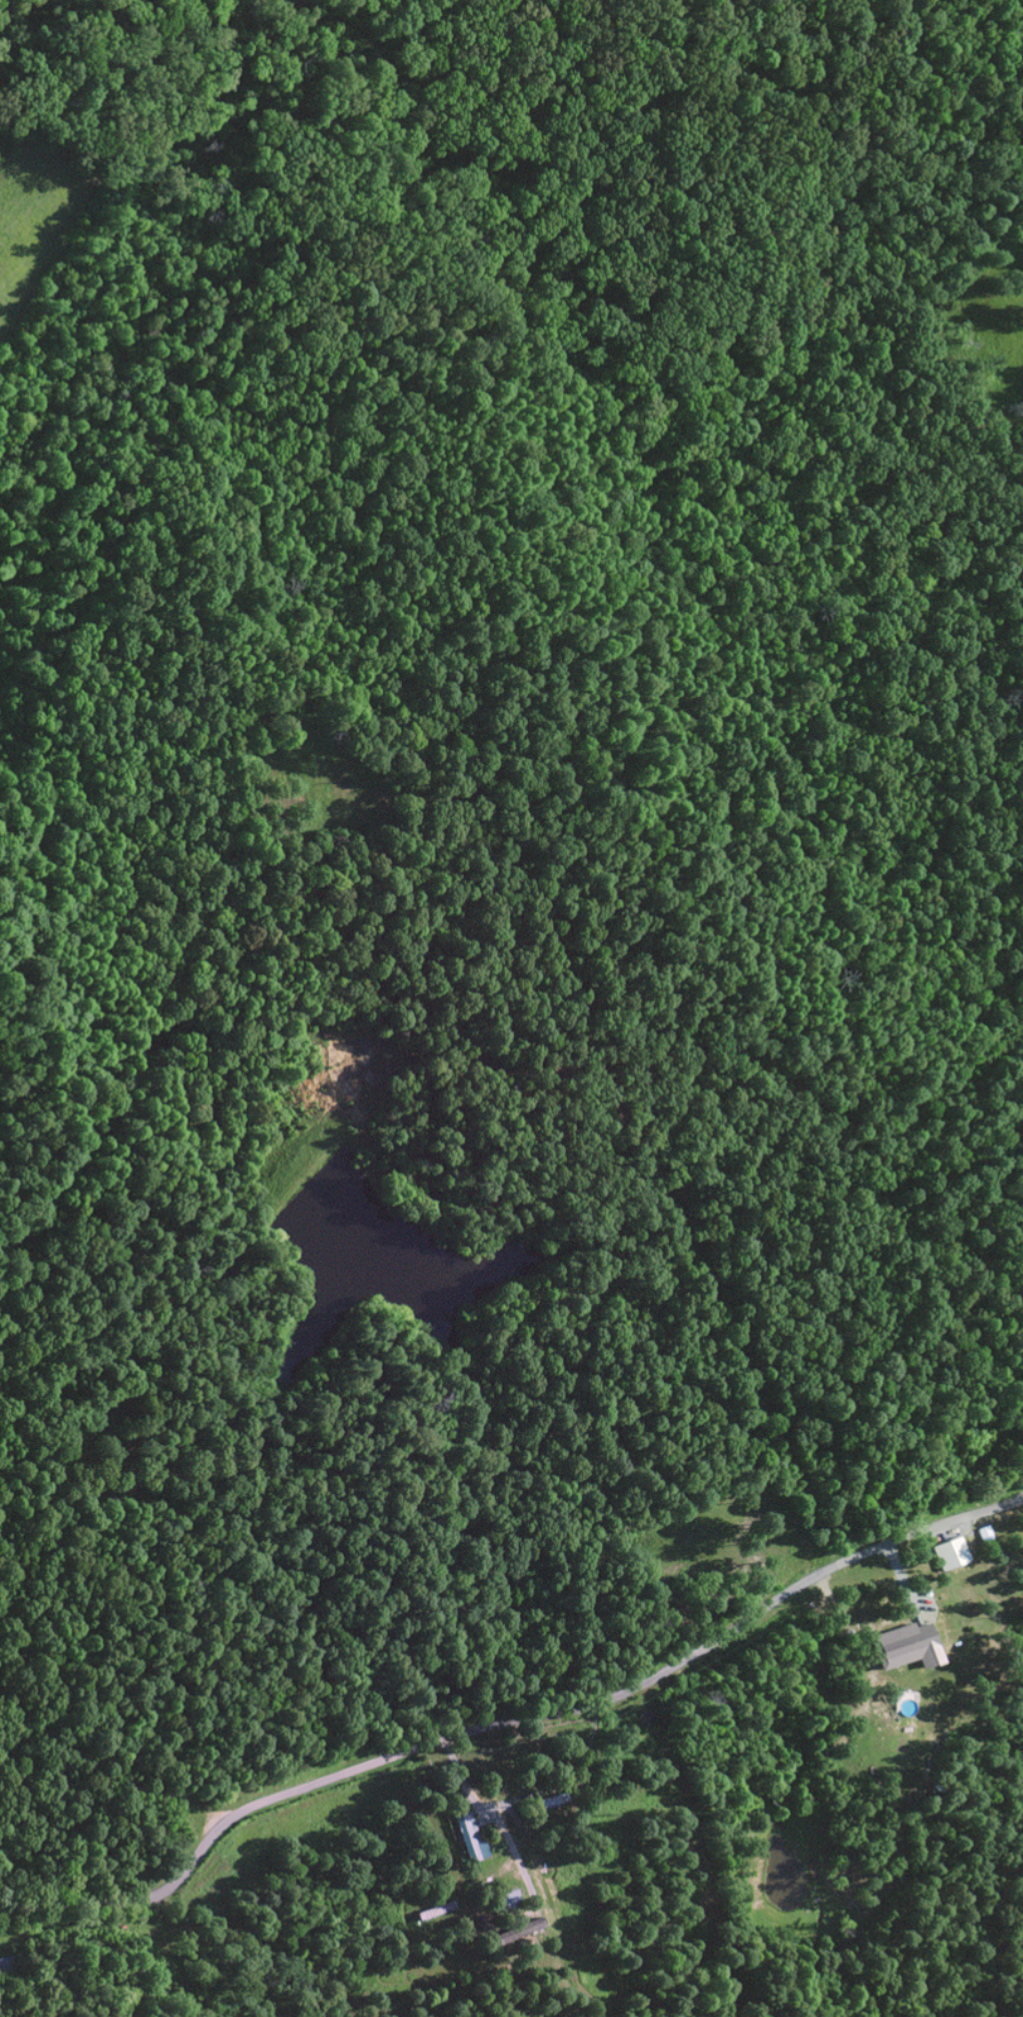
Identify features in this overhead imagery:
building: (948, 1554)
building: (905, 1646)
road: (512, 1722)
building: (469, 1835)
building: (518, 1930)

